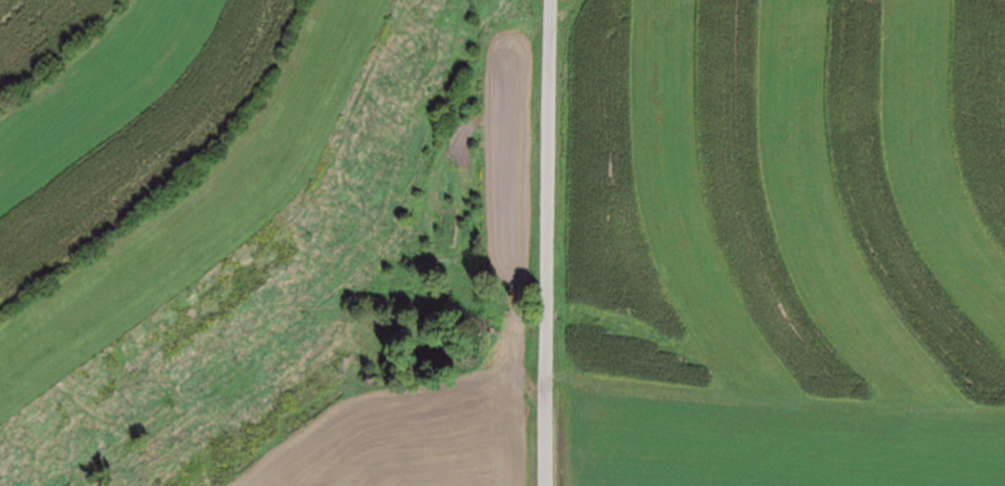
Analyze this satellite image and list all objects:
road: (553, 243)

